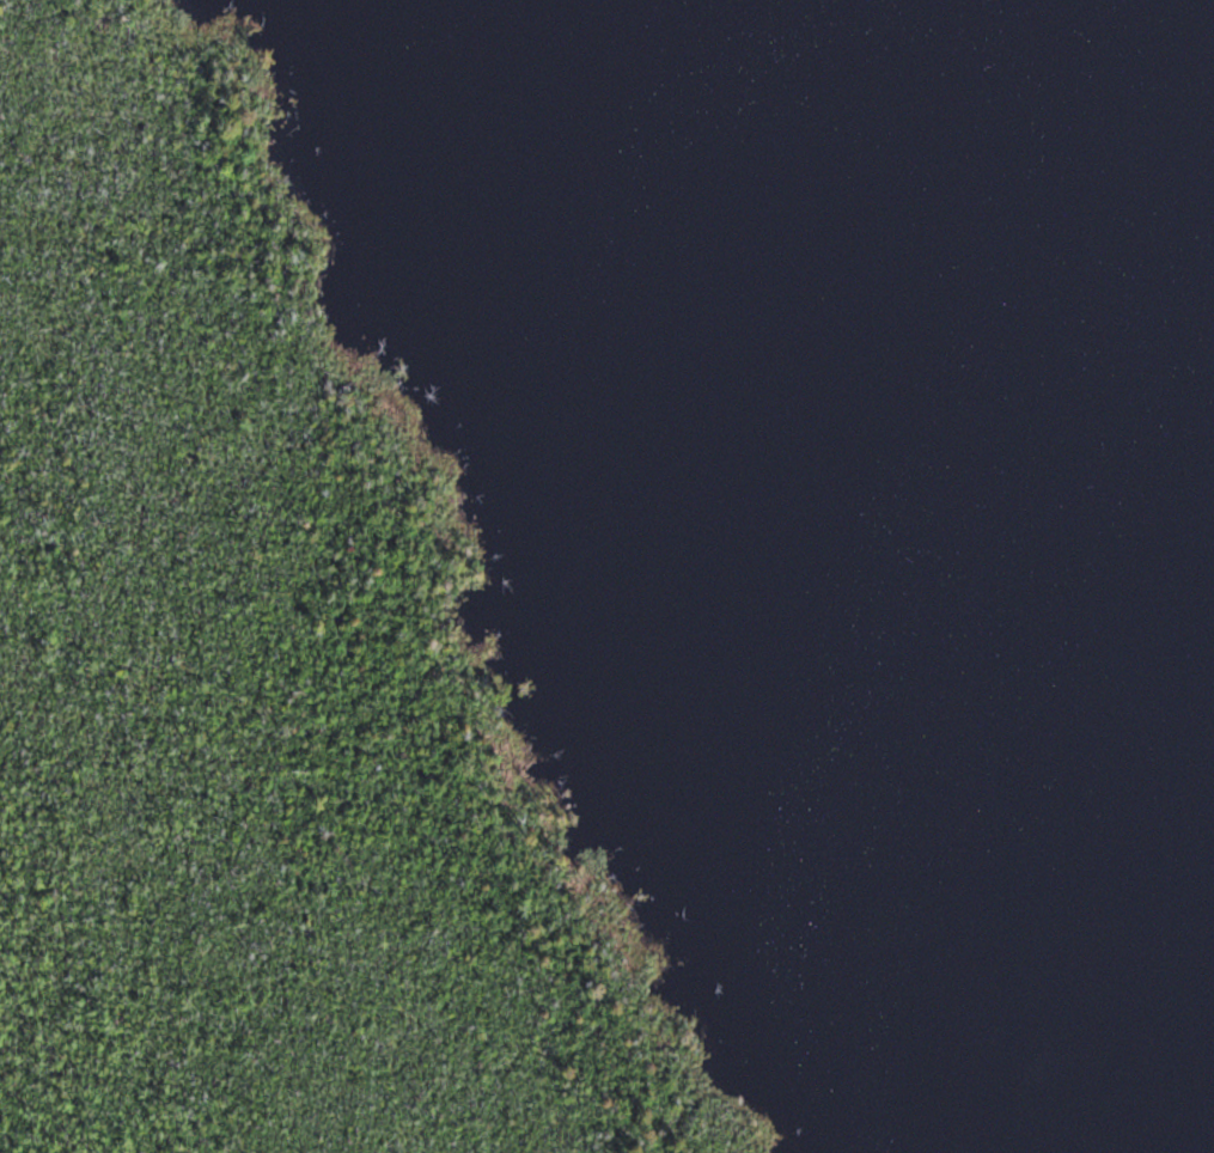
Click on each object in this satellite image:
river: (1047, 298)

